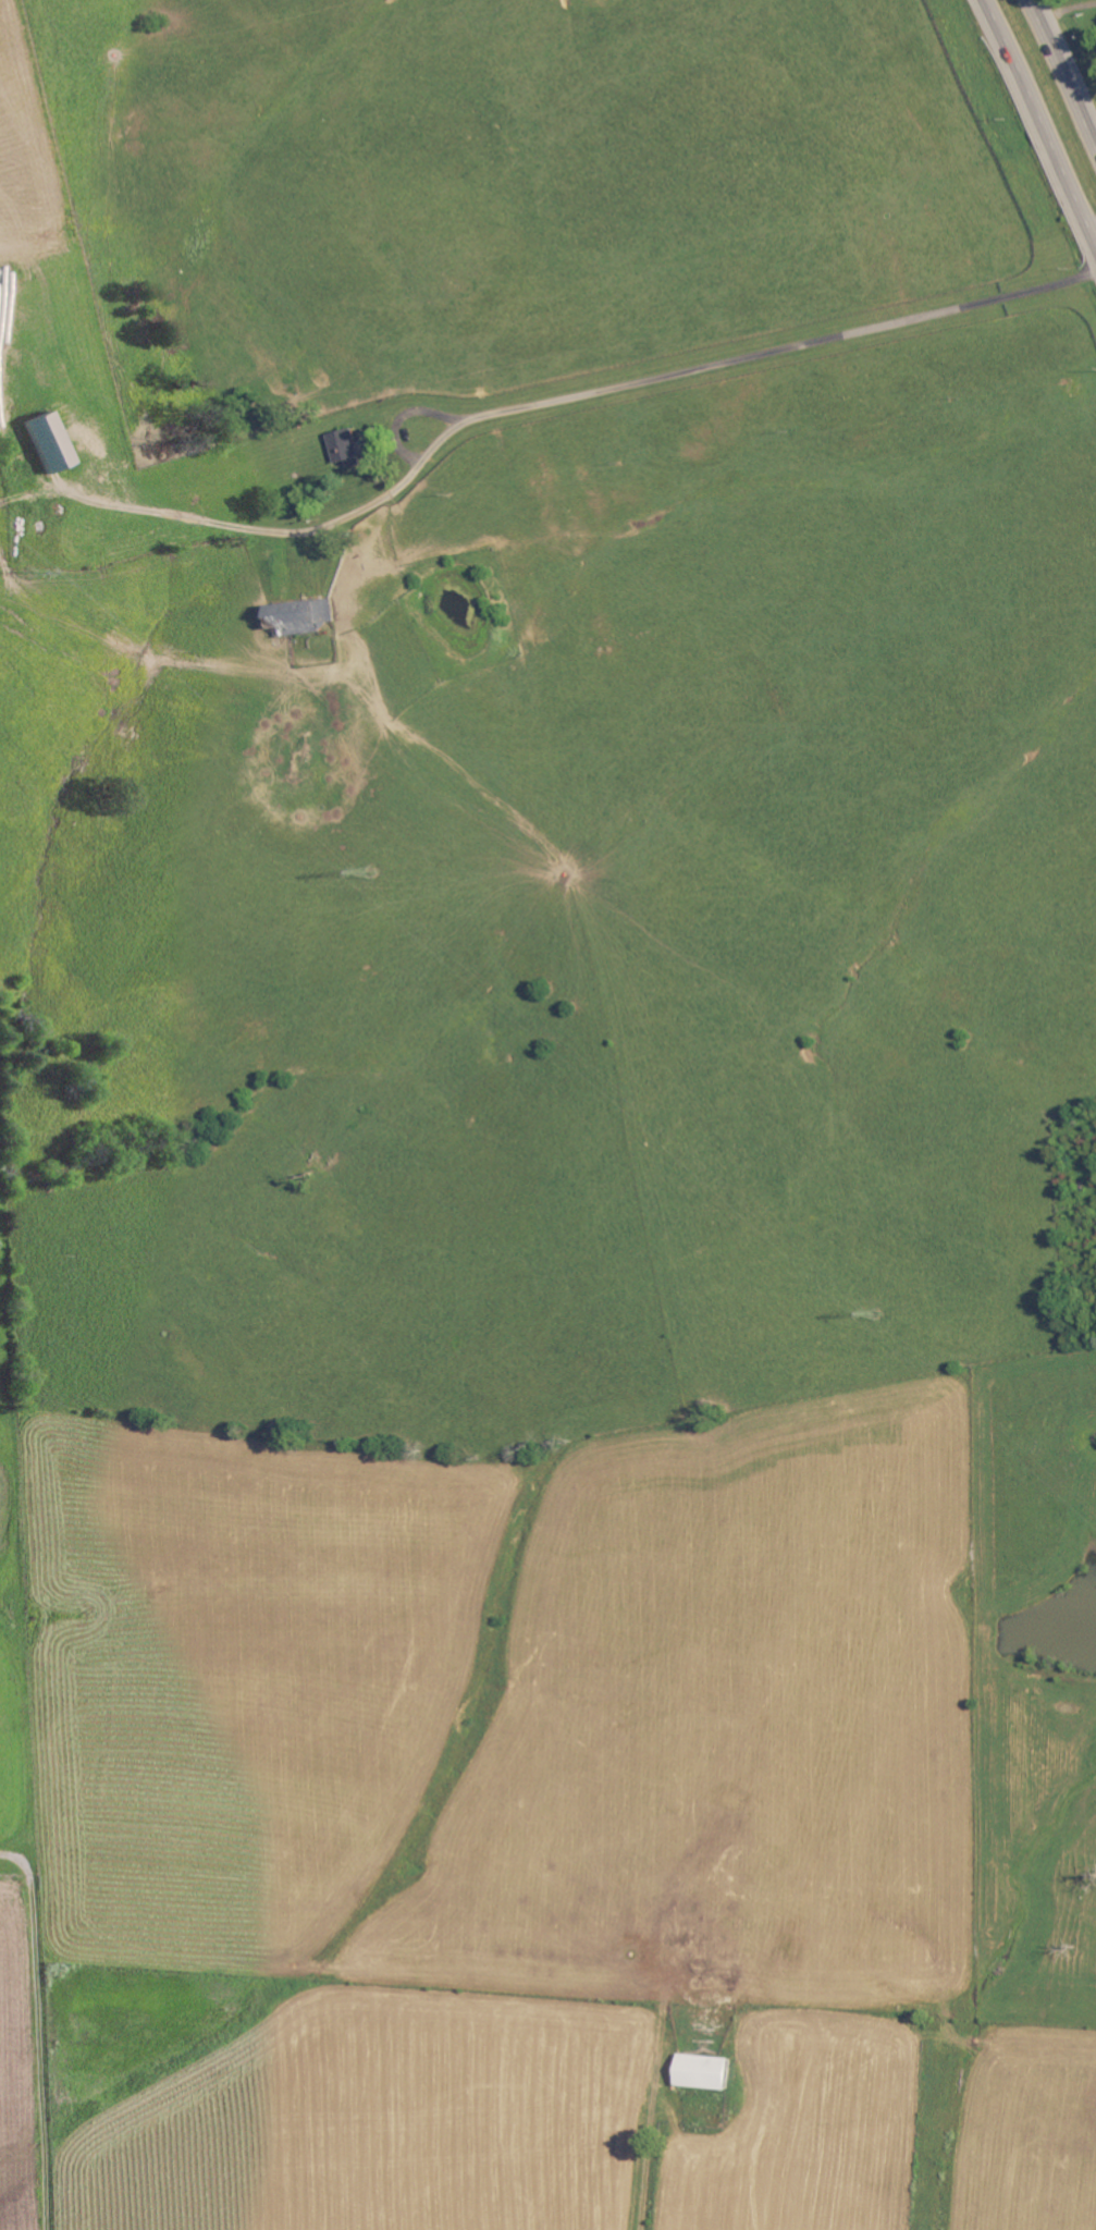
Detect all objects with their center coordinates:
road: (1064, 66)
road: (1044, 120)
road: (755, 358)
building: (51, 442)
building: (348, 449)
road: (260, 525)
building: (303, 618)
road: (17, 1860)
road: (41, 2051)
building: (706, 2073)
road: (650, 2141)

